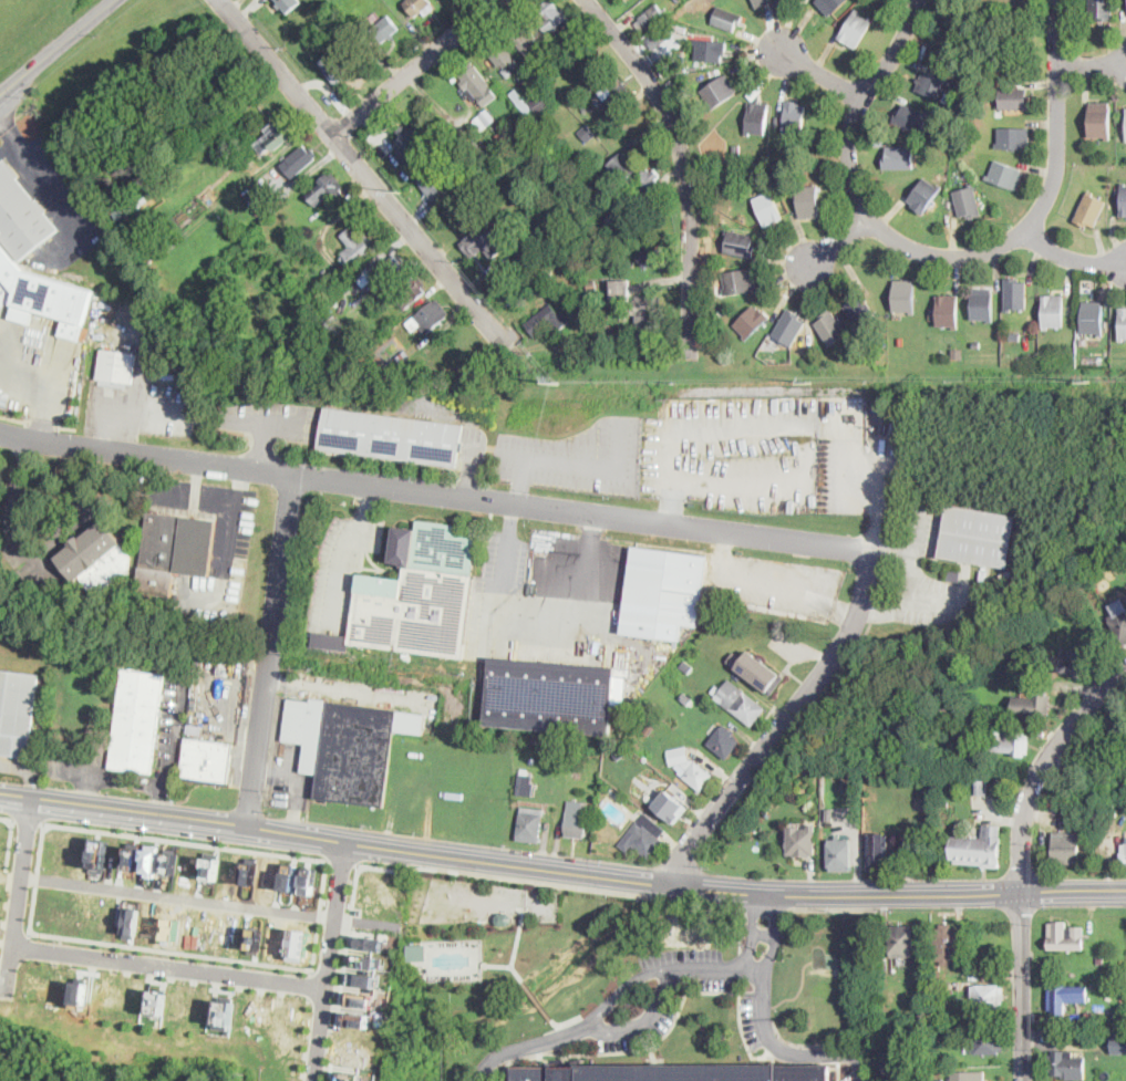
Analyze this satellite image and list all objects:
building: (761, 3)
building: (288, 4)
building: (393, 4)
building: (417, 6)
building: (831, 6)
building: (1102, 9)
building: (552, 17)
building: (650, 18)
building: (727, 19)
park: (30, 25)
building: (678, 27)
building: (385, 29)
building: (856, 30)
building: (664, 33)
building: (581, 39)
building: (526, 41)
road: (56, 46)
building: (711, 51)
building: (504, 56)
road: (1093, 63)
building: (337, 66)
road: (414, 67)
road: (822, 74)
building: (967, 81)
building: (478, 85)
building: (932, 85)
building: (755, 91)
building: (978, 91)
building: (612, 93)
building: (719, 93)
building: (1014, 98)
building: (521, 102)
building: (539, 103)
building: (586, 110)
building: (487, 116)
building: (793, 117)
building: (756, 118)
building: (911, 118)
building: (777, 119)
building: (1099, 119)
building: (481, 123)
road: (7, 133)
building: (587, 134)
building: (1125, 134)
building: (506, 136)
building: (1014, 137)
building: (276, 138)
building: (410, 142)
building: (493, 149)
building: (736, 149)
building: (477, 150)
building: (899, 158)
building: (299, 160)
road: (686, 163)
building: (622, 166)
road: (313, 169)
road: (364, 175)
building: (1005, 176)
building: (546, 180)
building: (649, 181)
building: (434, 184)
building: (591, 188)
building: (326, 189)
power tower: (401, 190)
building: (577, 191)
building: (624, 194)
road: (50, 196)
building: (248, 196)
building: (924, 196)
building: (1124, 200)
building: (808, 201)
building: (968, 201)
building: (257, 207)
building: (768, 208)
building: (1091, 210)
building: (21, 216)
building: (613, 217)
building: (483, 241)
road: (838, 241)
building: (740, 245)
building: (357, 249)
road: (944, 256)
building: (651, 257)
road: (1072, 257)
building: (632, 264)
building: (391, 269)
building: (620, 272)
building: (365, 276)
building: (740, 281)
building: (581, 282)
building: (592, 287)
building: (323, 290)
building: (373, 290)
building: (410, 291)
building: (44, 294)
building: (1015, 294)
building: (583, 295)
building: (905, 297)
building: (638, 304)
building: (983, 304)
building: (859, 310)
building: (948, 311)
building: (1053, 311)
building: (432, 316)
building: (1093, 318)
building: (547, 320)
building: (752, 322)
building: (1122, 324)
building: (789, 328)
building: (830, 328)
building: (200, 334)
building: (1015, 335)
building: (1083, 341)
building: (977, 345)
building: (955, 355)
building: (404, 356)
building: (772, 358)
building: (380, 360)
building: (358, 363)
building: (116, 368)
power tower: (1091, 380)
power tower: (813, 381)
power tower: (559, 383)
parking lot: (142, 408)
parking lot: (266, 418)
road: (14, 419)
road: (262, 423)
building: (391, 436)
road: (265, 447)
parking lot: (733, 450)
parking lot: (578, 456)
parking lot: (0, 460)
road: (556, 461)
road: (436, 493)
road: (217, 500)
road: (9, 512)
building: (978, 537)
road: (507, 545)
road: (348, 550)
building: (174, 551)
building: (96, 558)
road: (589, 567)
building: (1099, 569)
building: (953, 573)
parking lot: (931, 576)
road: (912, 579)
parking lot: (776, 583)
road: (761, 584)
parking lot: (495, 586)
building: (663, 593)
building: (415, 596)
road: (879, 596)
road: (843, 611)
building: (1119, 626)
road: (270, 649)
building: (1071, 664)
building: (684, 665)
building: (755, 672)
road: (823, 673)
road: (340, 688)
building: (550, 696)
building: (686, 699)
building: (740, 703)
building: (1033, 704)
building: (17, 711)
parking lot: (172, 717)
building: (136, 723)
road: (173, 728)
building: (650, 729)
building: (724, 740)
building: (1009, 742)
building: (348, 747)
building: (577, 756)
building: (207, 760)
building: (531, 761)
parking lot: (82, 766)
road: (1041, 766)
building: (689, 767)
road: (272, 772)
building: (869, 772)
road: (86, 775)
building: (525, 783)
road: (87, 789)
building: (984, 789)
road: (296, 790)
road: (163, 801)
building: (1091, 802)
building: (671, 803)
building: (944, 803)
building: (1079, 812)
building: (828, 815)
building: (577, 820)
road: (27, 821)
building: (530, 823)
building: (647, 835)
road: (10, 838)
building: (802, 841)
road: (185, 842)
building: (979, 848)
building: (1066, 848)
building: (101, 854)
building: (839, 854)
building: (880, 854)
building: (1124, 856)
building: (151, 861)
building: (172, 861)
road: (343, 862)
road: (509, 863)
building: (210, 867)
building: (290, 877)
road: (35, 880)
building: (310, 882)
road: (574, 886)
road: (1073, 888)
road: (19, 893)
road: (178, 898)
road: (767, 911)
road: (830, 911)
road: (320, 914)
building: (503, 918)
building: (133, 919)
road: (753, 931)
road: (776, 933)
road: (764, 934)
building: (1065, 937)
building: (901, 940)
building: (369, 943)
road: (516, 944)
building: (946, 944)
road: (171, 950)
building: (417, 950)
road: (331, 960)
building: (366, 960)
building: (1101, 960)
road: (497, 965)
road: (169, 967)
building: (936, 967)
road: (710, 969)
road: (344, 971)
building: (365, 978)
building: (954, 986)
road: (1022, 986)
building: (81, 992)
building: (986, 997)
building: (1066, 997)
building: (158, 1002)
road: (540, 1005)
building: (948, 1006)
building: (225, 1011)
building: (961, 1014)
building: (1122, 1016)
building: (1096, 1017)
building: (360, 1019)
road: (644, 1020)
building: (986, 1039)
building: (1119, 1042)
building: (1066, 1064)
road: (858, 1069)
building: (674, 1072)
building: (944, 1072)
building: (351, 1075)
building: (967, 1075)
parking lot: (857, 1077)
building: (939, 1079)

